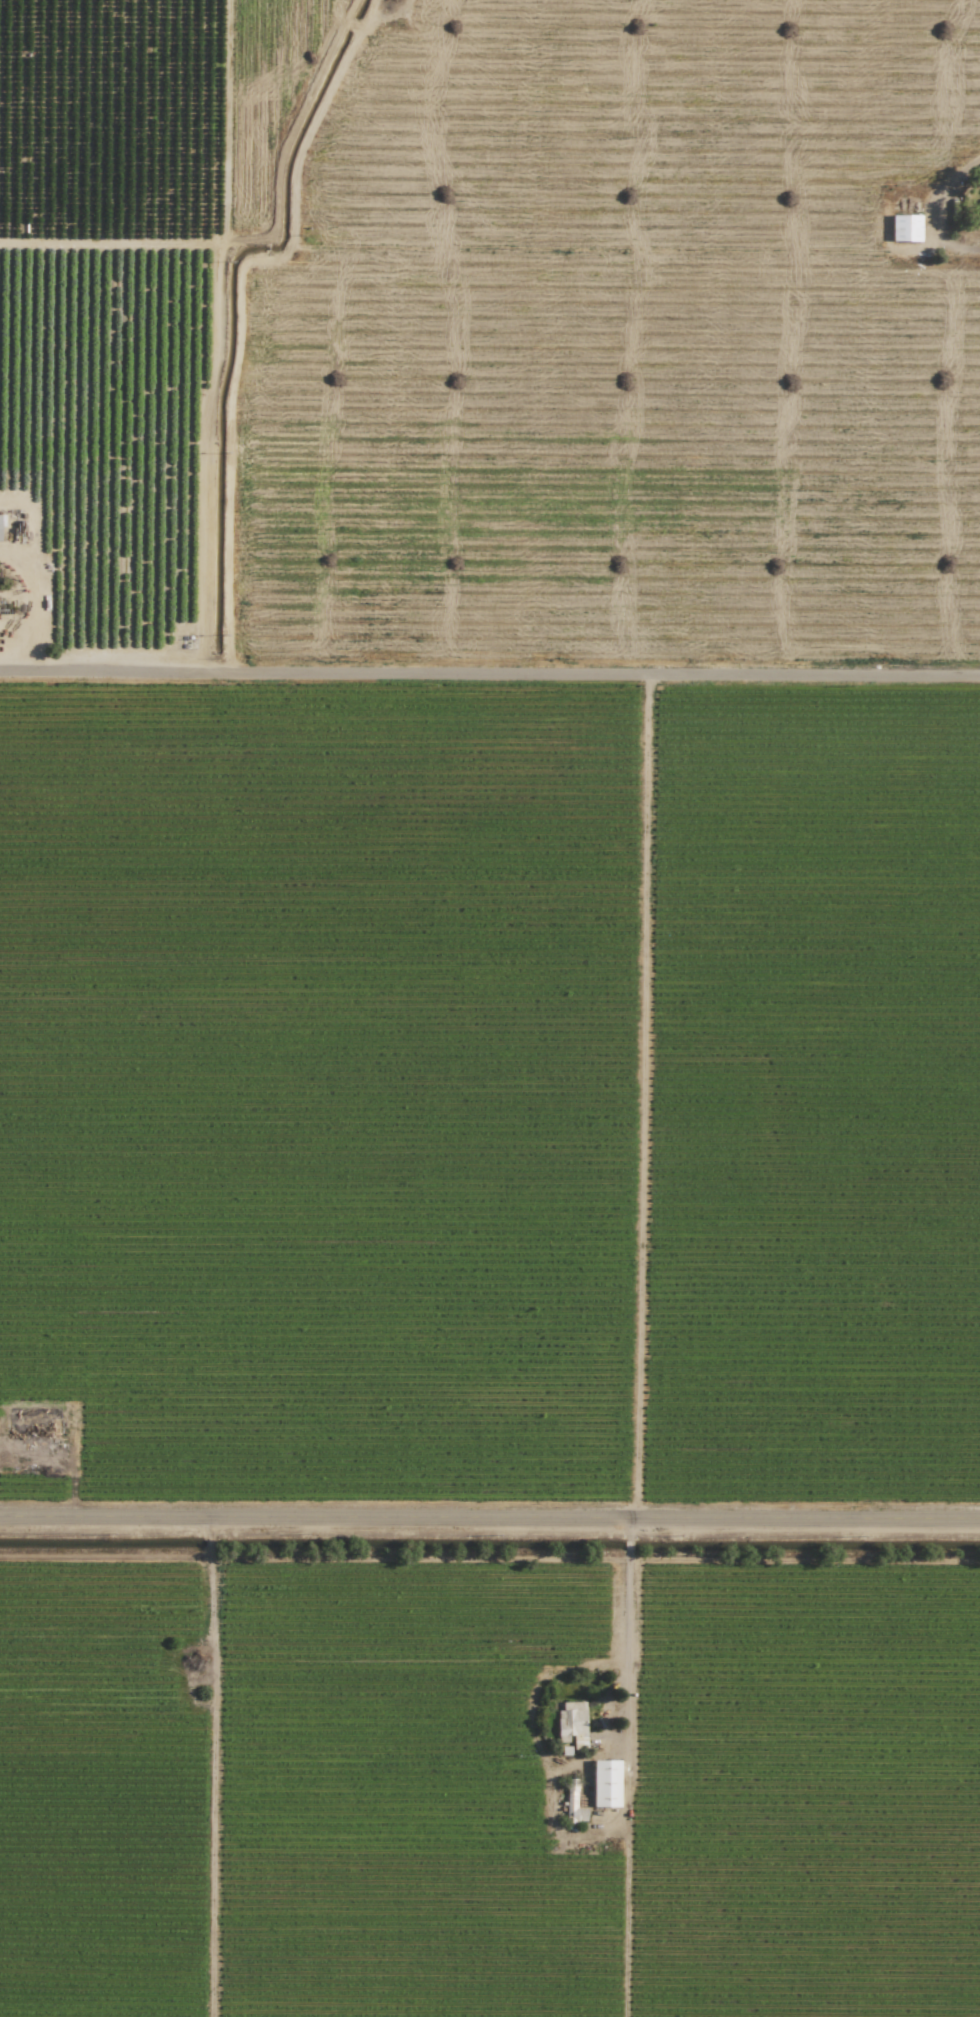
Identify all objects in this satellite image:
road: (490, 676)
building: (34, 1420)
road: (490, 1525)
building: (573, 1723)
building: (606, 1783)
building: (573, 1803)

